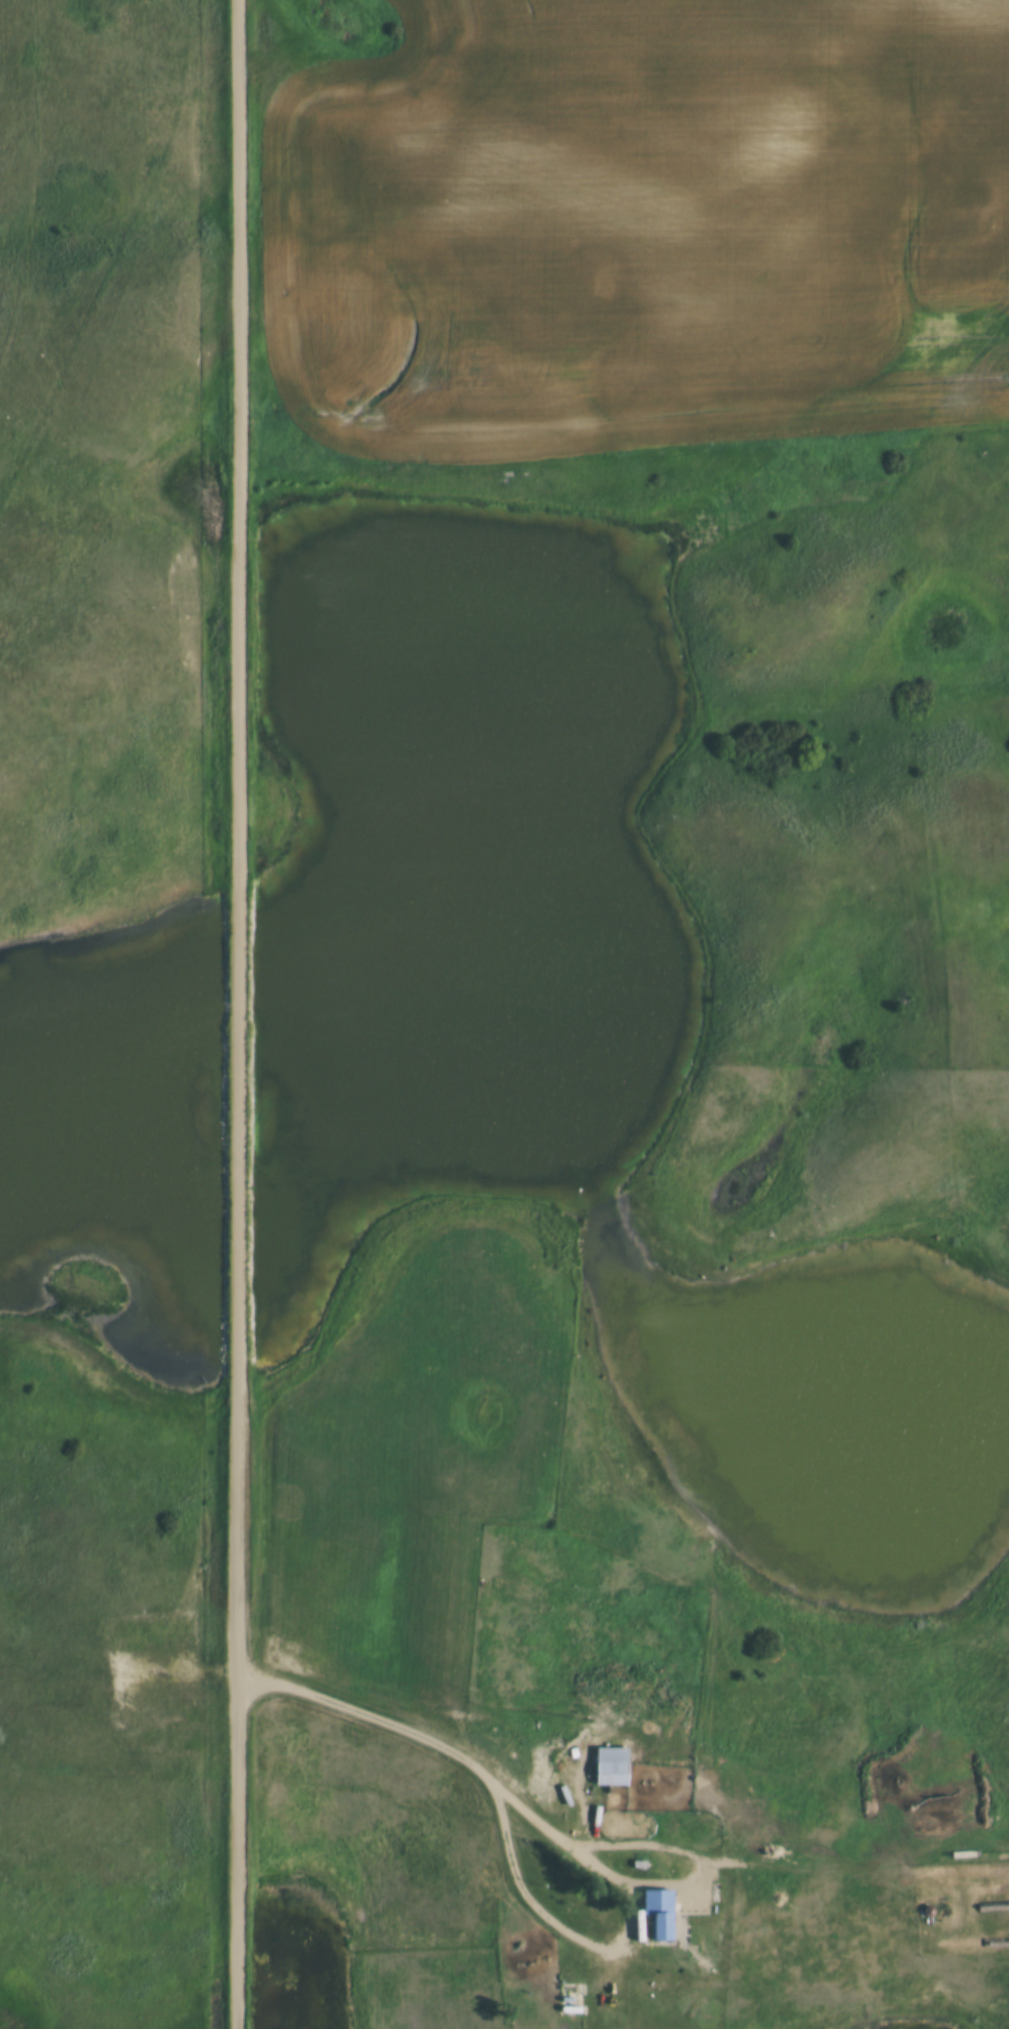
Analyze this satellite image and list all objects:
road: (241, 1014)
road: (119, 1769)
building: (617, 1776)
road: (571, 1840)
building: (666, 1916)
building: (644, 1931)

